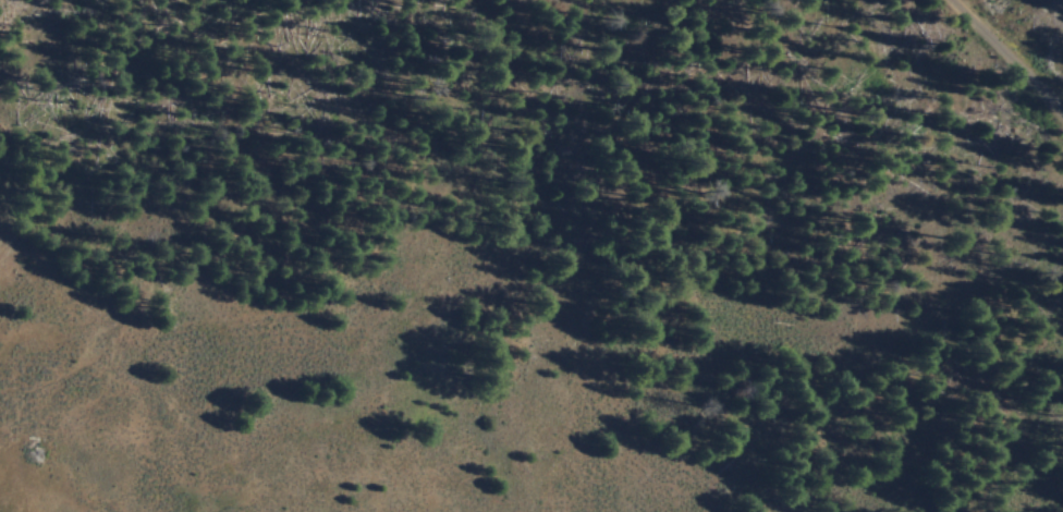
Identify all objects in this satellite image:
road: (1009, 53)

